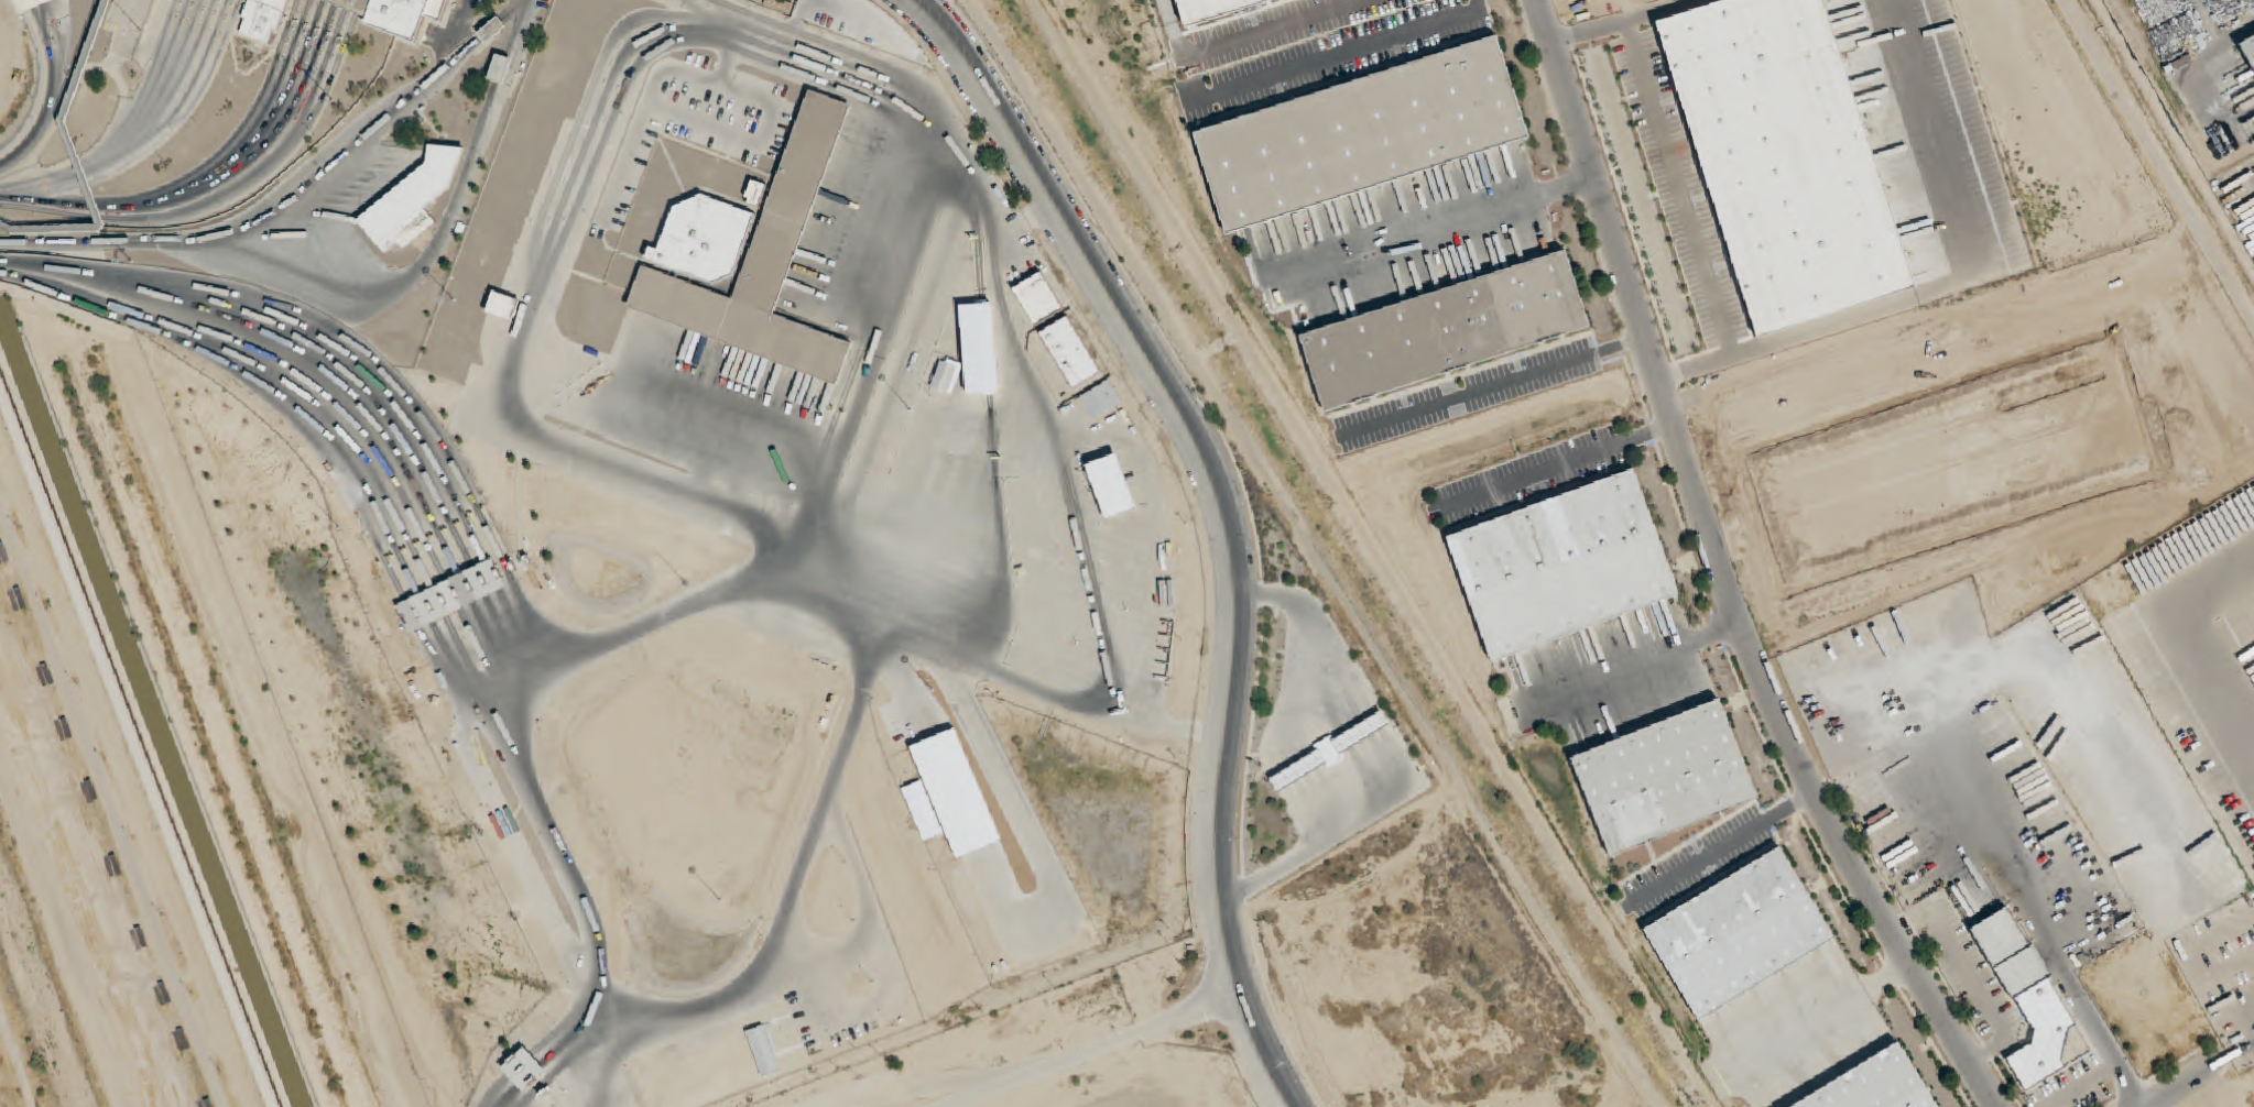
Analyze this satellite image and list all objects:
building: (2253, 0)
road: (334, 1)
road: (40, 3)
road: (346, 3)
building: (29, 4)
road: (359, 6)
building: (778, 6)
road: (512, 11)
building: (396, 13)
building: (263, 17)
road: (797, 17)
road: (853, 17)
building: (491, 31)
road: (491, 31)
road: (1233, 31)
road: (42, 32)
road: (653, 34)
road: (854, 37)
road: (818, 43)
road: (1348, 55)
building: (500, 69)
road: (333, 70)
road: (159, 79)
road: (268, 80)
road: (43, 83)
road: (653, 87)
road: (145, 88)
road: (851, 92)
road: (53, 97)
road: (178, 120)
road: (159, 122)
road: (133, 130)
building: (66, 132)
road: (140, 134)
road: (254, 135)
building: (1361, 135)
road: (235, 140)
road: (752, 144)
road: (76, 160)
road: (2158, 161)
road: (215, 182)
building: (756, 193)
road: (227, 197)
building: (412, 201)
road: (268, 210)
road: (1440, 222)
road: (437, 237)
building: (705, 238)
road: (977, 246)
building: (765, 263)
road: (20, 274)
building: (1038, 299)
building: (503, 306)
road: (530, 307)
road: (181, 321)
building: (1444, 331)
building: (979, 349)
road: (982, 349)
building: (1069, 352)
road: (871, 359)
building: (944, 377)
road: (1492, 387)
building: (1100, 401)
road: (745, 423)
road: (423, 443)
road: (1055, 445)
road: (411, 454)
road: (401, 464)
road: (388, 474)
road: (375, 481)
road: (362, 486)
building: (1111, 487)
road: (348, 490)
road: (839, 502)
road: (476, 509)
road: (1221, 514)
road: (998, 537)
building: (1561, 566)
road: (1723, 572)
road: (490, 576)
road: (478, 581)
road: (465, 588)
road: (451, 594)
building: (450, 595)
road: (837, 596)
road: (438, 602)
road: (426, 607)
road: (412, 614)
road: (642, 631)
road: (521, 649)
road: (511, 650)
road: (498, 653)
road: (483, 657)
road: (1641, 659)
road: (469, 662)
road: (457, 669)
road: (444, 679)
road: (1047, 697)
building: (1329, 753)
building: (902, 754)
building: (1664, 778)
building: (958, 793)
road: (1793, 802)
building: (923, 811)
road: (786, 910)
road: (586, 918)
building: (1738, 933)
river: (35, 999)
building: (2032, 1002)
building: (1081, 1009)
road: (657, 1013)
road: (1822, 1018)
road: (1092, 1051)
building: (525, 1068)
building: (1871, 1086)
road: (2182, 1087)
road: (918, 1089)

